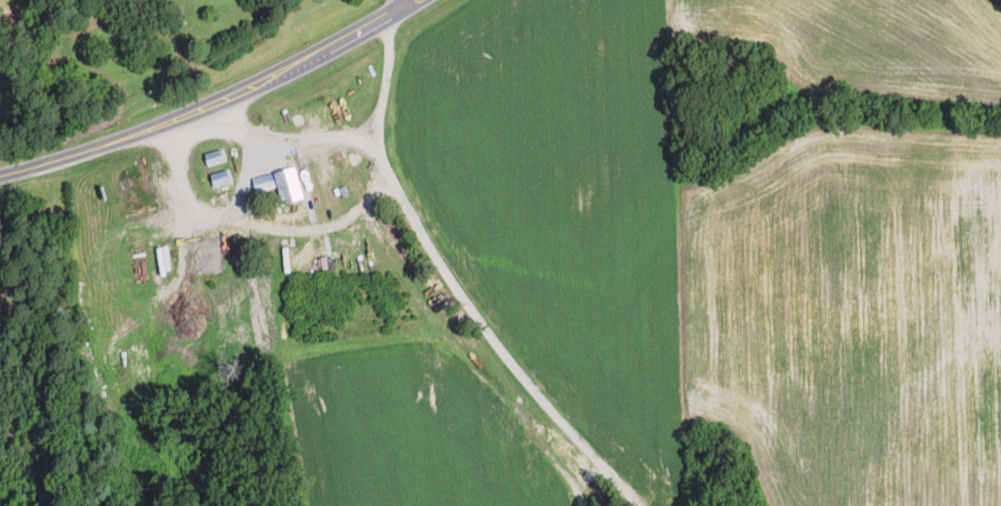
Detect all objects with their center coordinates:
road: (399, 3)
road: (384, 78)
road: (210, 102)
building: (210, 156)
building: (216, 177)
building: (278, 184)
road: (178, 191)
road: (280, 229)
road: (441, 264)
building: (6, 267)

